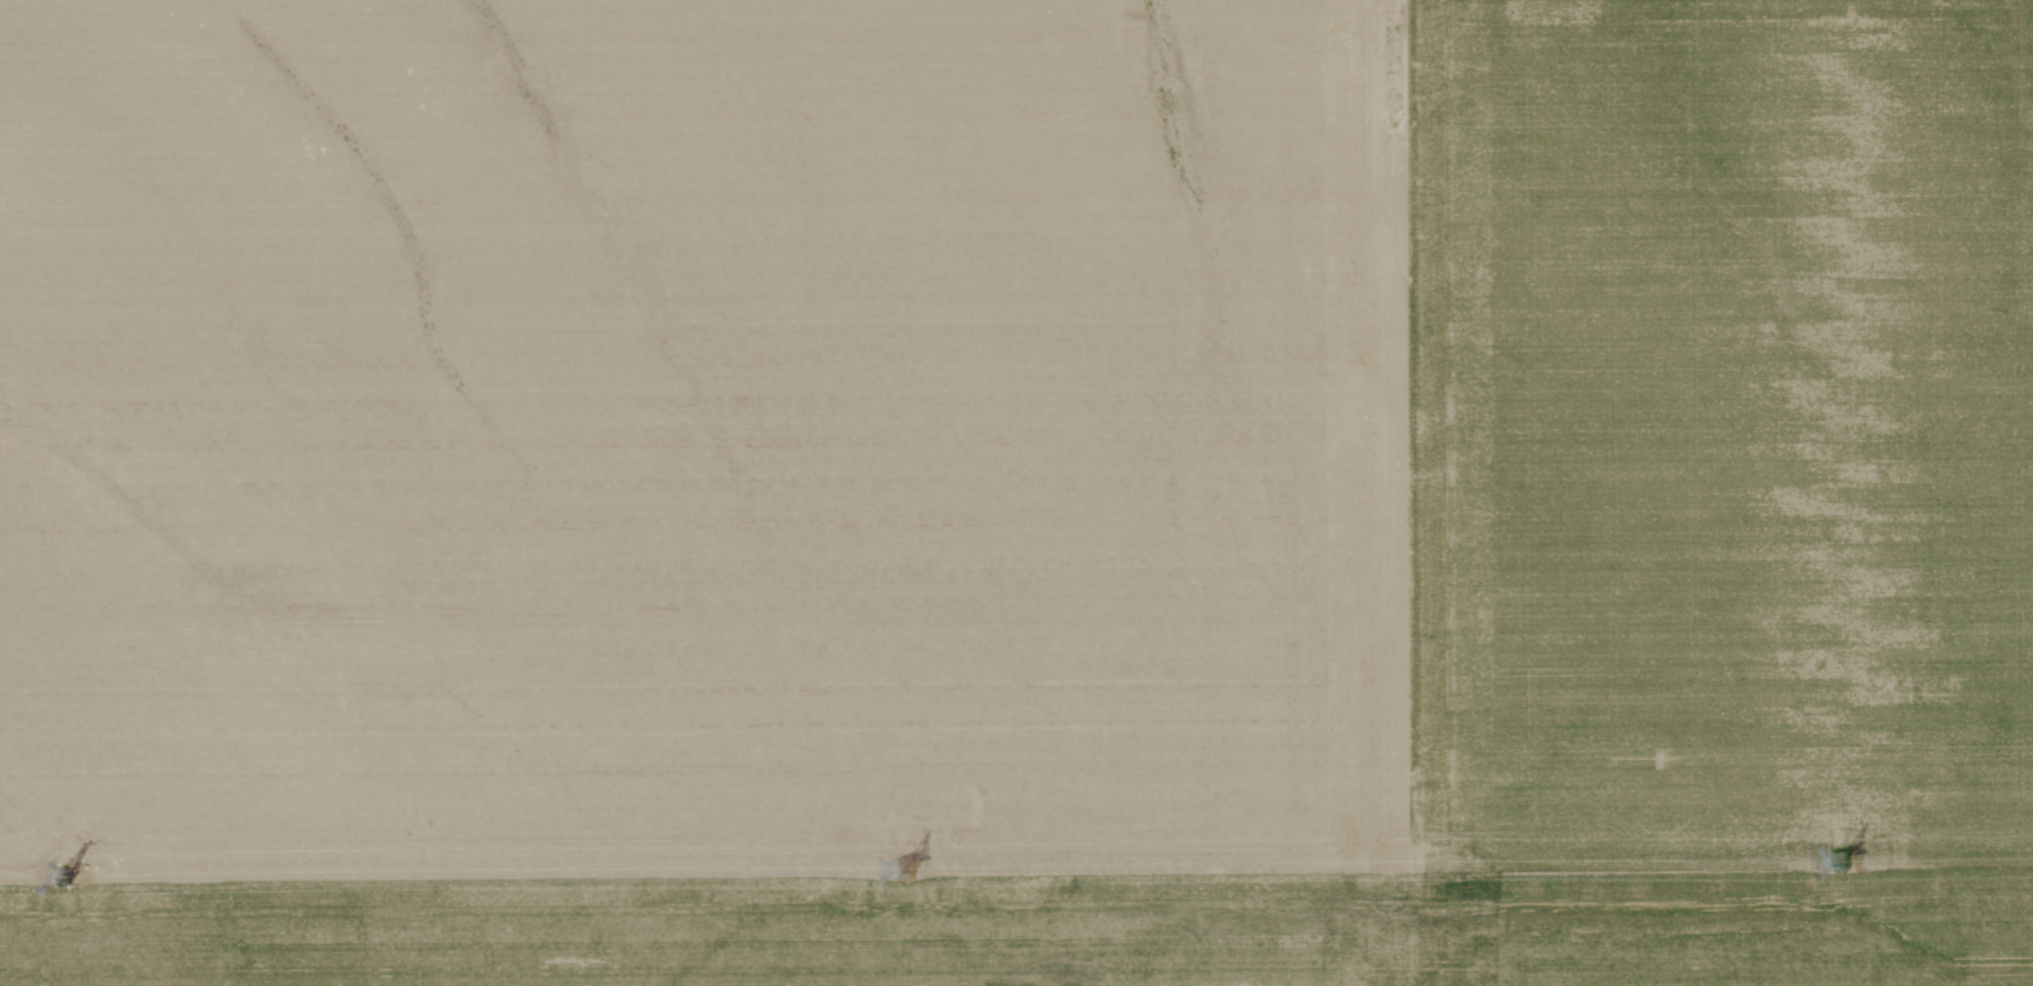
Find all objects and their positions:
power tower: (1841, 860)
power tower: (907, 868)
power tower: (65, 876)

